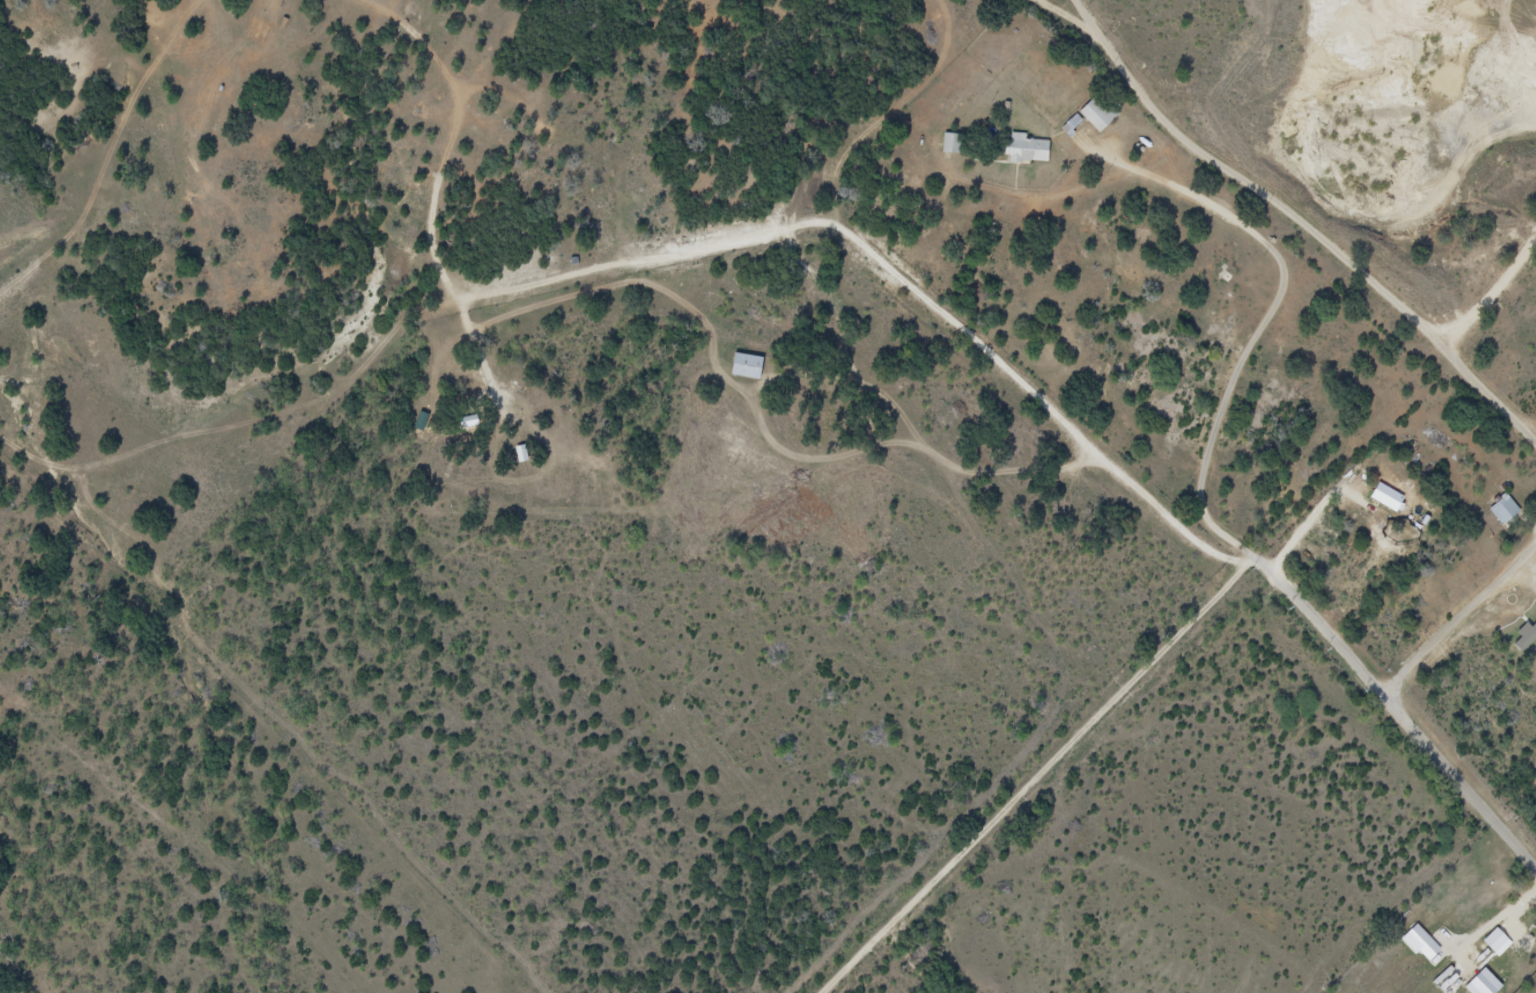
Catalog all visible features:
building: (257, 33)
building: (1092, 117)
building: (953, 144)
building: (1027, 150)
building: (746, 366)
road: (232, 437)
building: (1385, 497)
building: (1506, 512)
road: (1208, 550)
road: (1461, 624)
building: (1525, 636)
road: (1047, 778)
building: (1514, 911)
building: (1514, 944)

